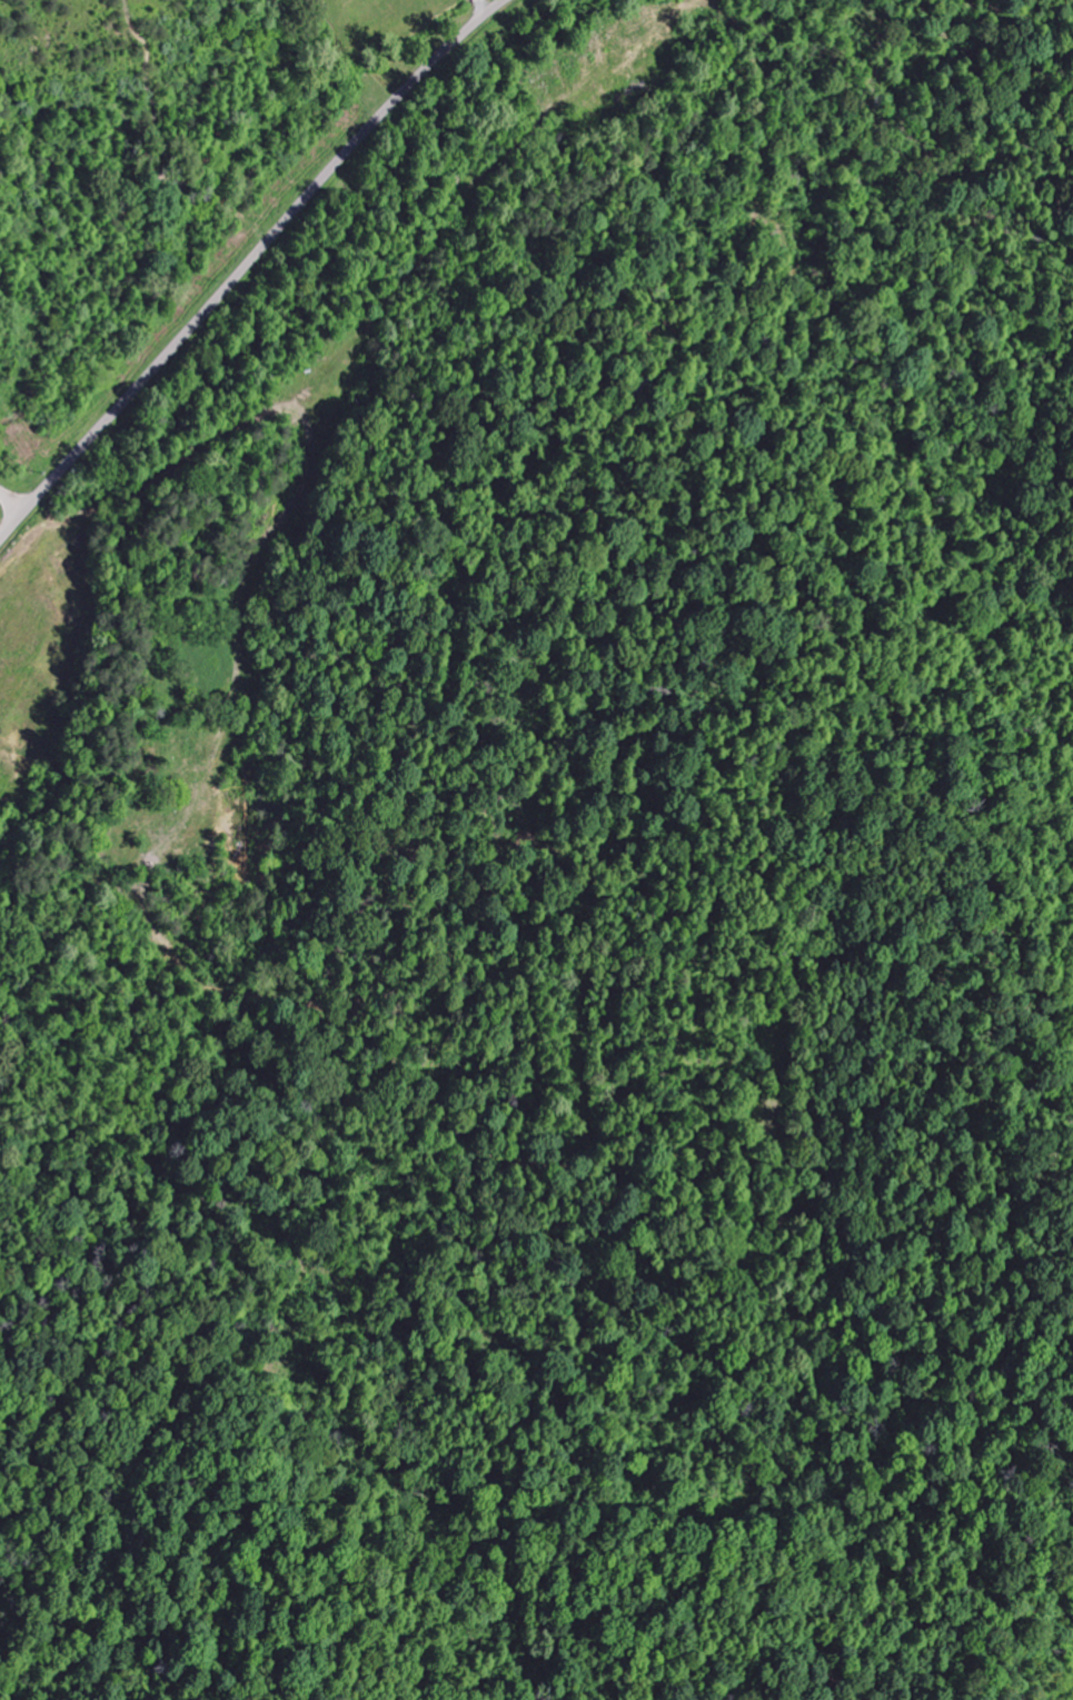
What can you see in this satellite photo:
road: (249, 265)
road: (12, 505)

